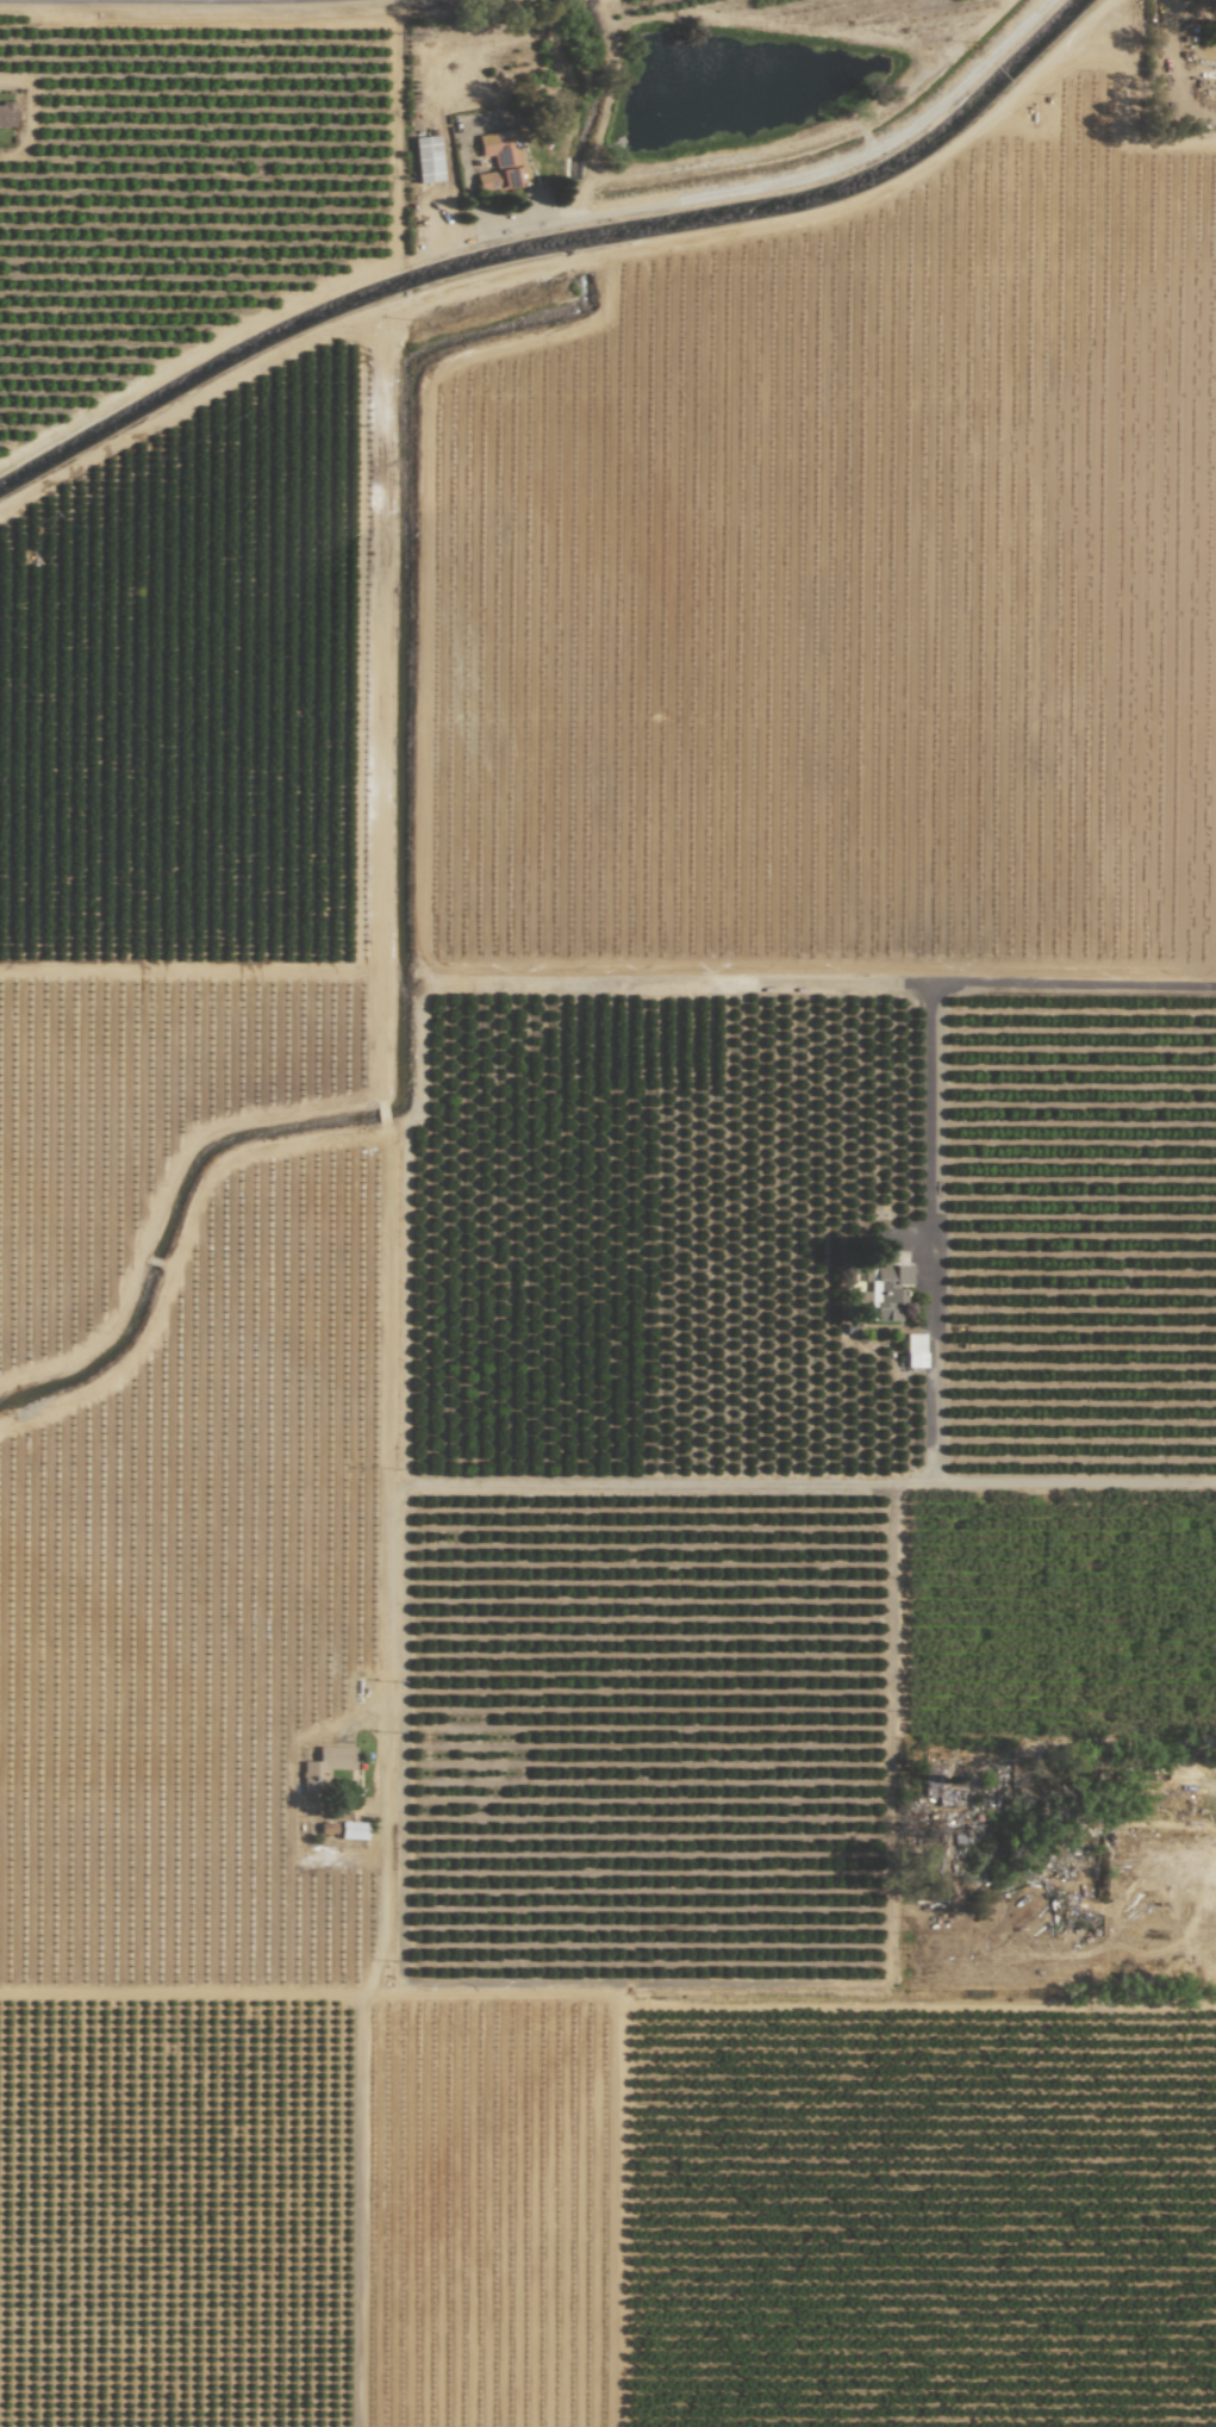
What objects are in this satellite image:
building: (7, 116)
building: (428, 160)
building: (501, 161)
road: (825, 988)
road: (930, 1234)
building: (888, 1292)
building: (915, 1351)
road: (1073, 1482)
road: (657, 1483)
building: (326, 1768)
road: (391, 1965)
road: (300, 1991)
road: (909, 1997)

